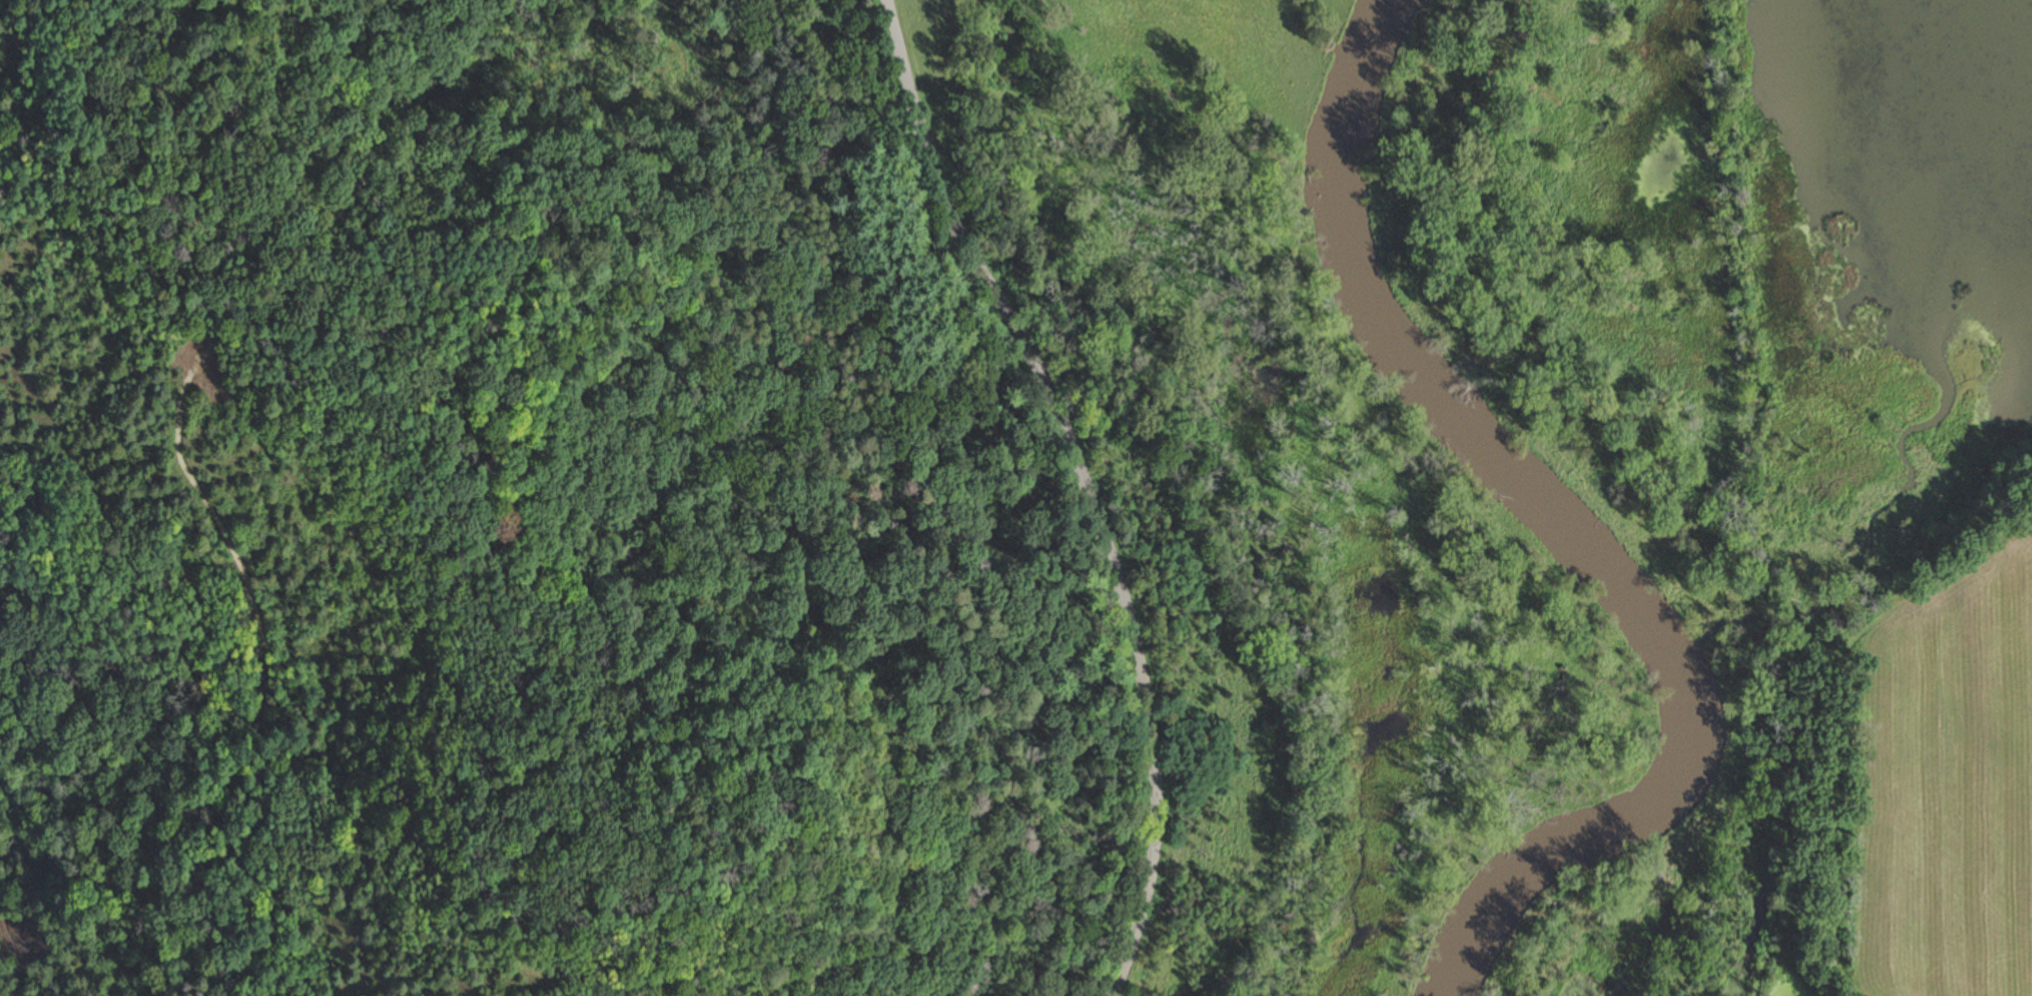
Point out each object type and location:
road: (1083, 484)
river: (1574, 530)
crop: (1940, 795)

